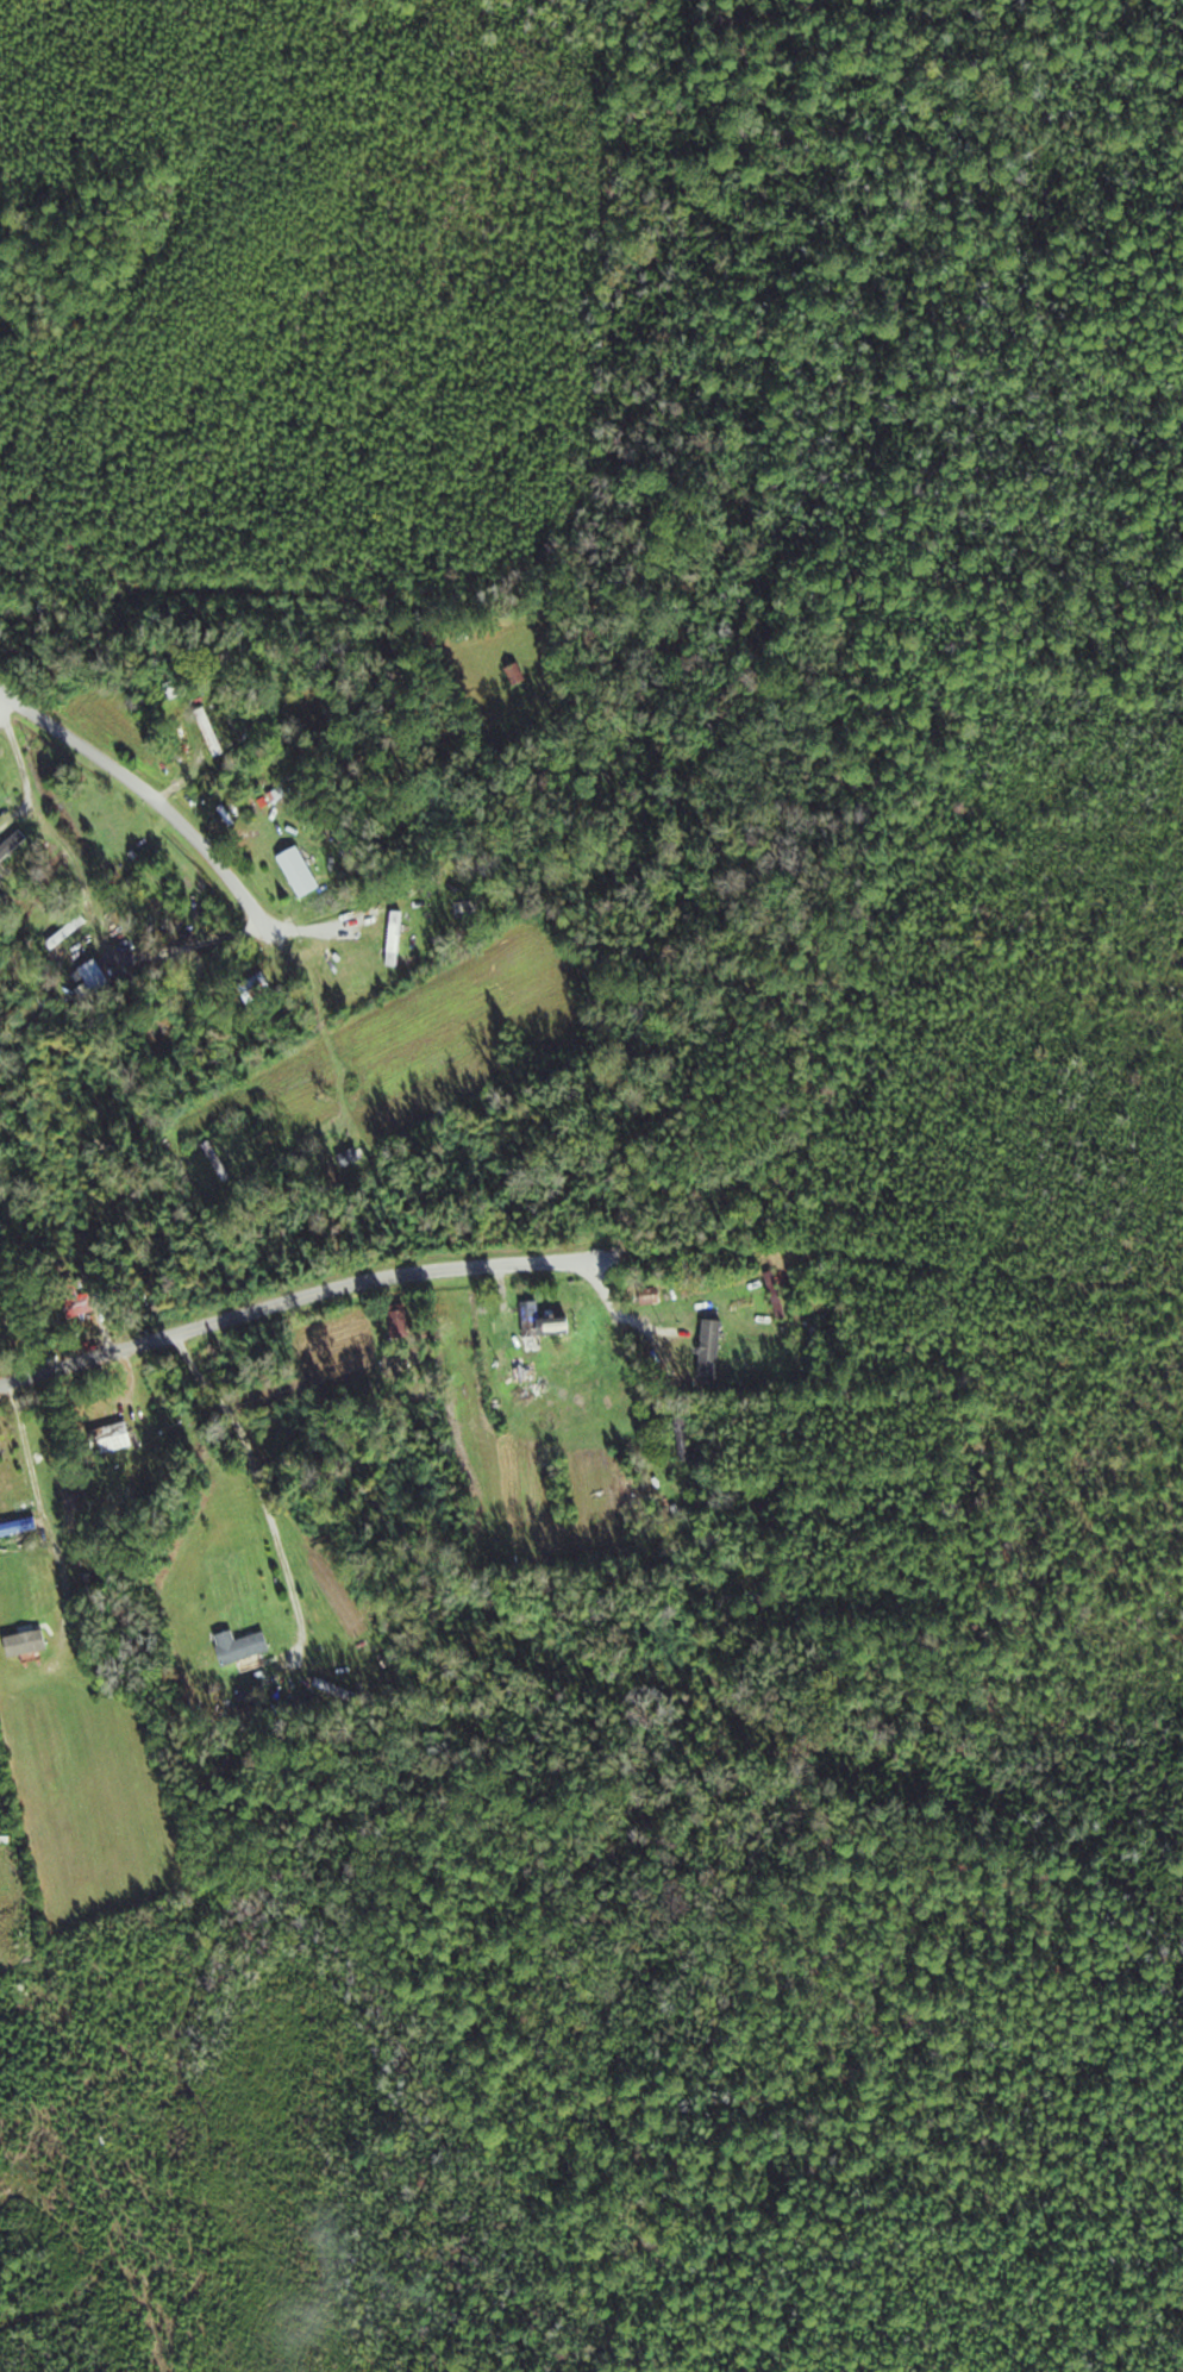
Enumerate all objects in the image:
building: (520, 672)
building: (240, 719)
building: (214, 733)
road: (148, 795)
building: (14, 845)
building: (303, 871)
building: (71, 931)
building: (388, 938)
building: (98, 980)
building: (356, 1157)
road: (432, 1269)
building: (774, 1295)
building: (86, 1303)
building: (403, 1322)
building: (547, 1322)
building: (707, 1350)
building: (528, 1372)
building: (126, 1435)
building: (683, 1437)
road: (709, 1489)
building: (20, 1527)
building: (31, 1644)
building: (238, 1647)

